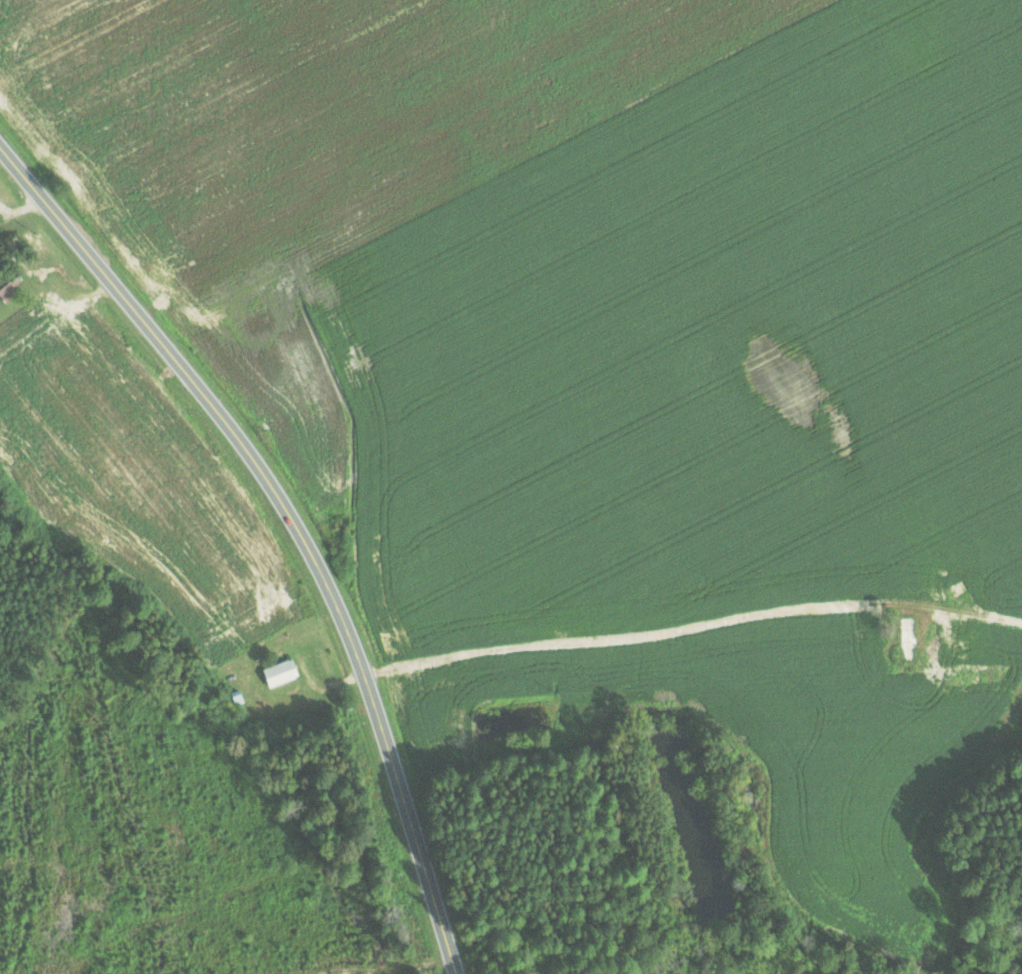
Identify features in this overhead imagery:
road: (297, 524)
road: (676, 629)
building: (904, 631)
building: (279, 671)
building: (980, 676)

